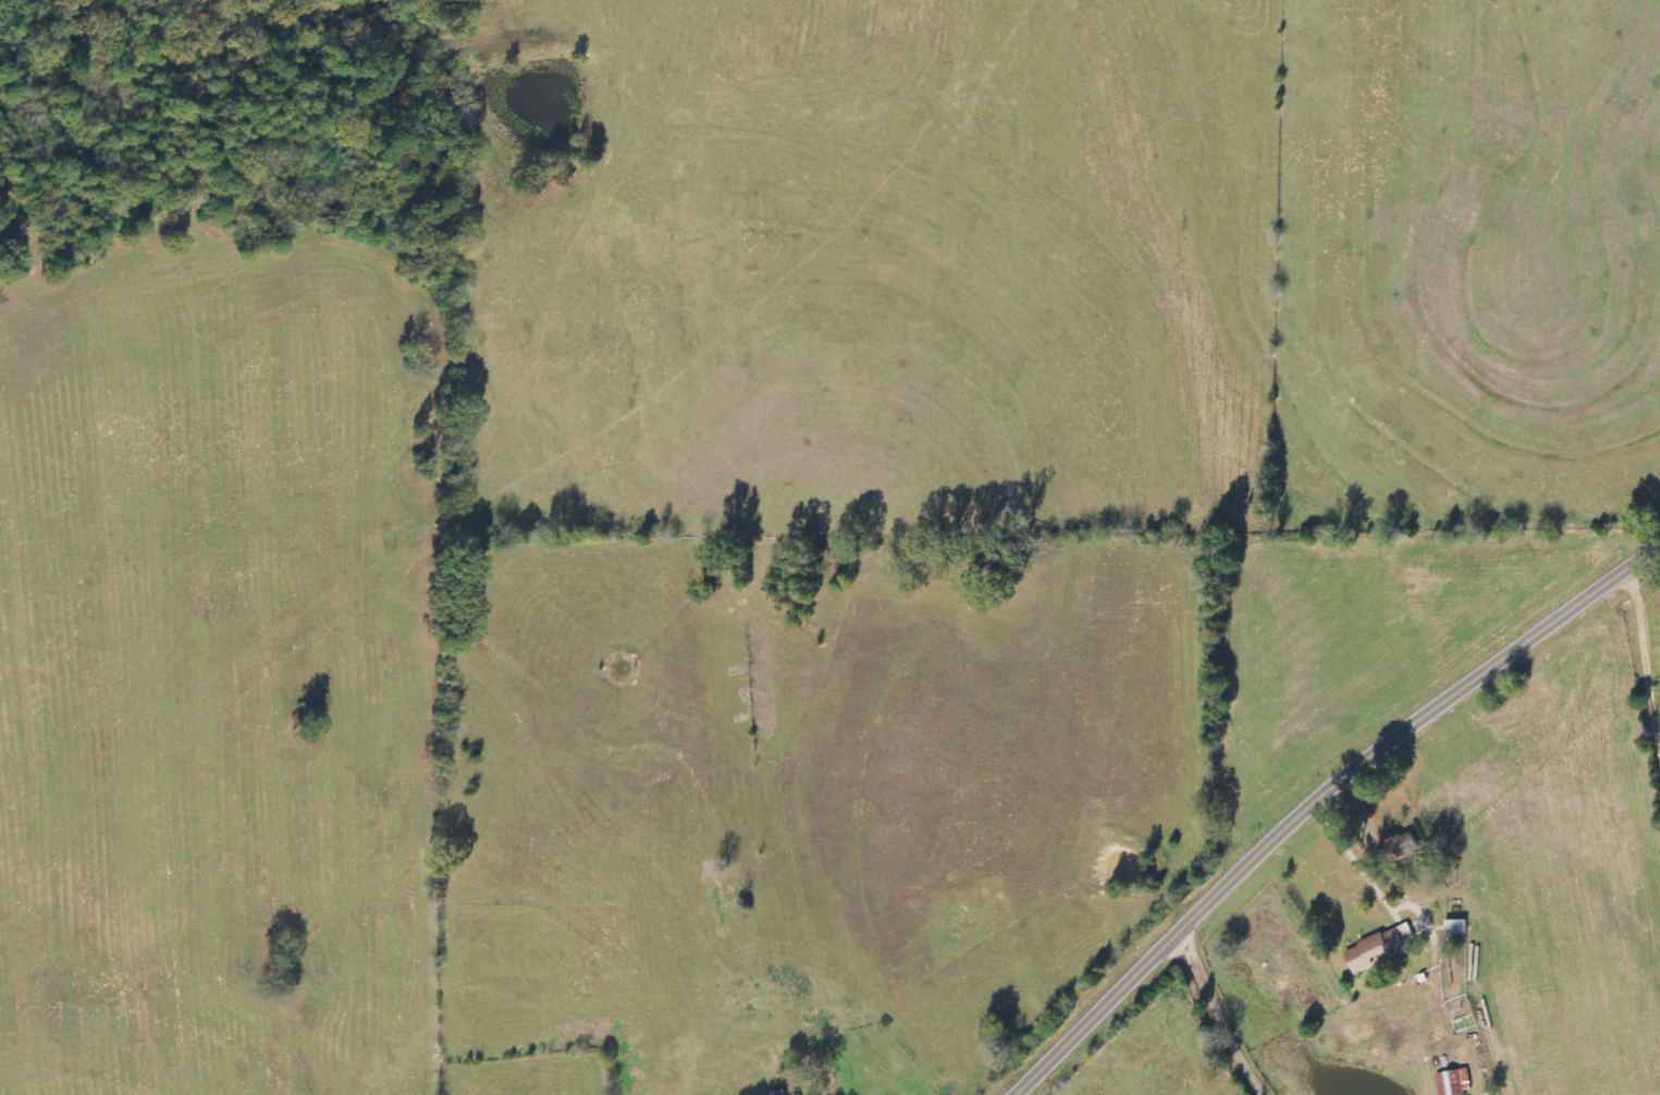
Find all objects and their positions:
road: (1318, 799)
building: (1400, 847)
road: (1355, 858)
building: (1380, 949)
road: (1229, 1016)
building: (1454, 1082)
building: (778, 1093)

